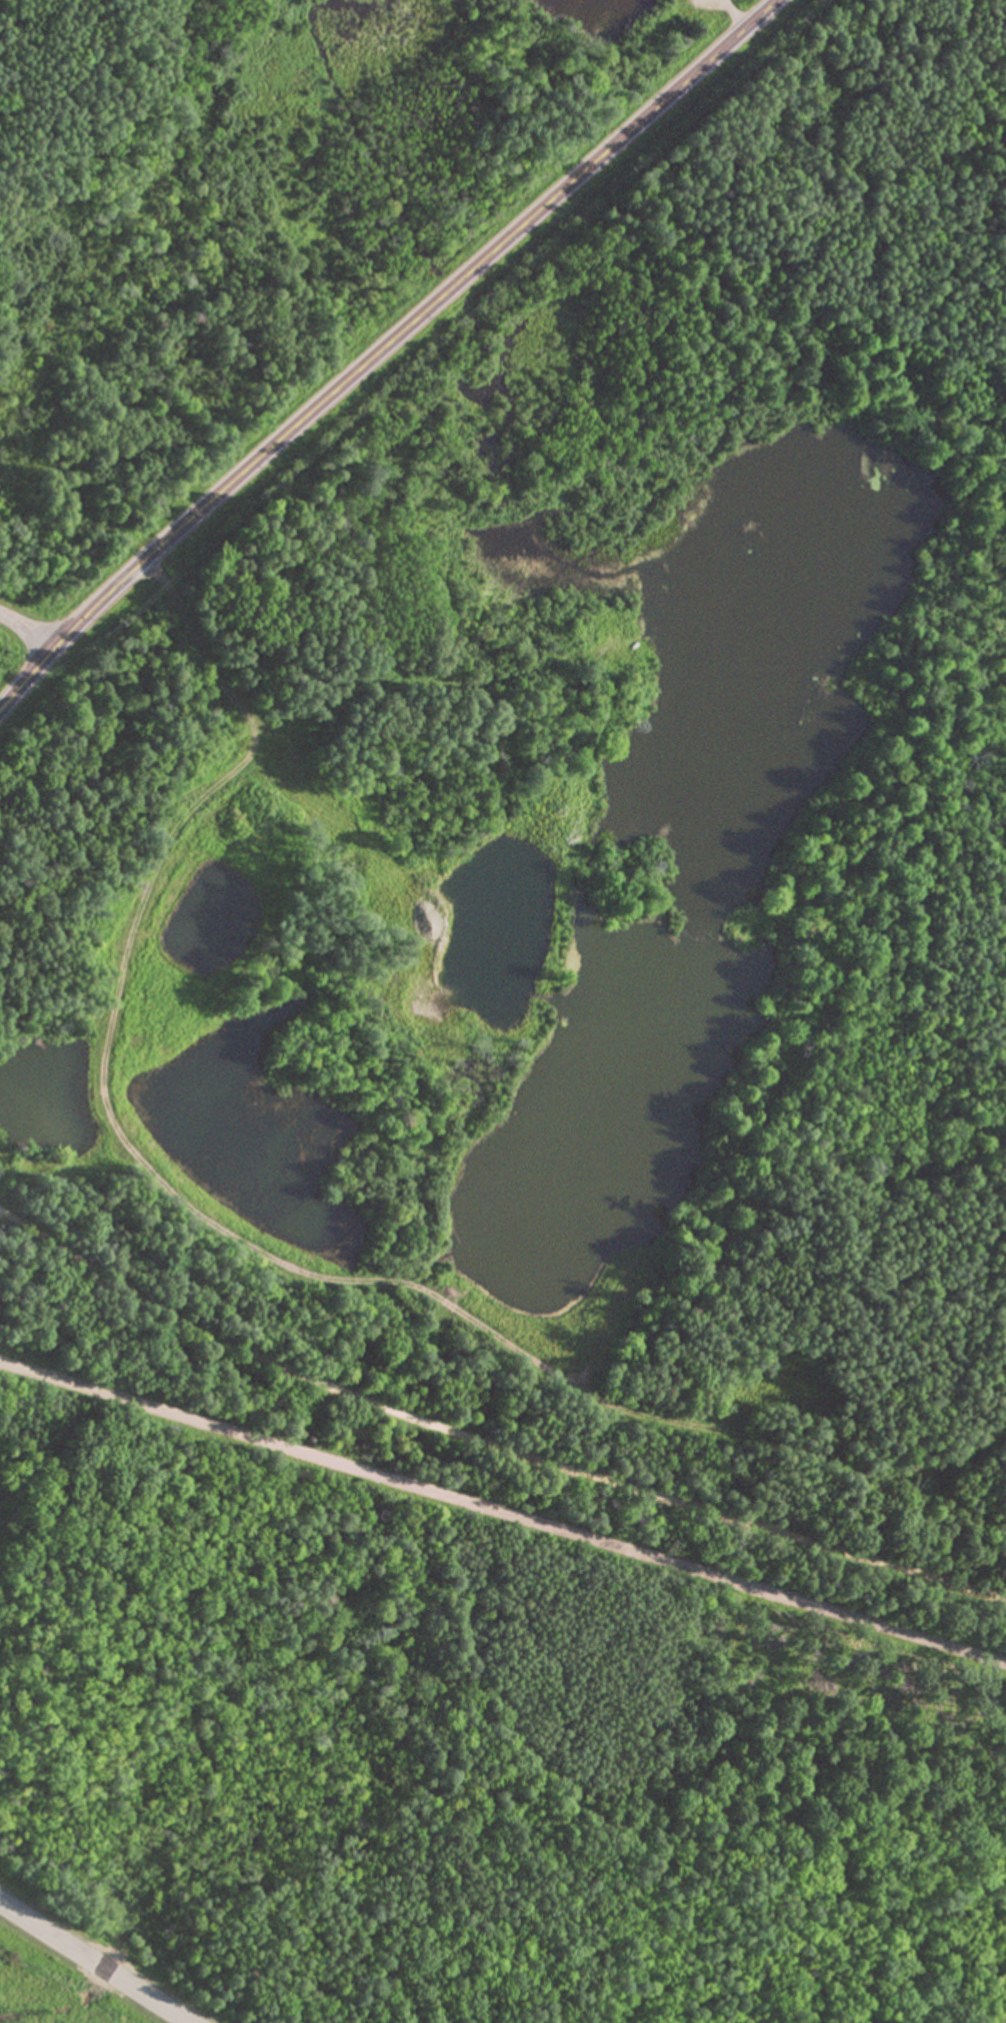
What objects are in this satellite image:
road: (383, 350)
road: (28, 629)
road: (486, 1446)
road: (503, 1513)
road: (95, 1962)

